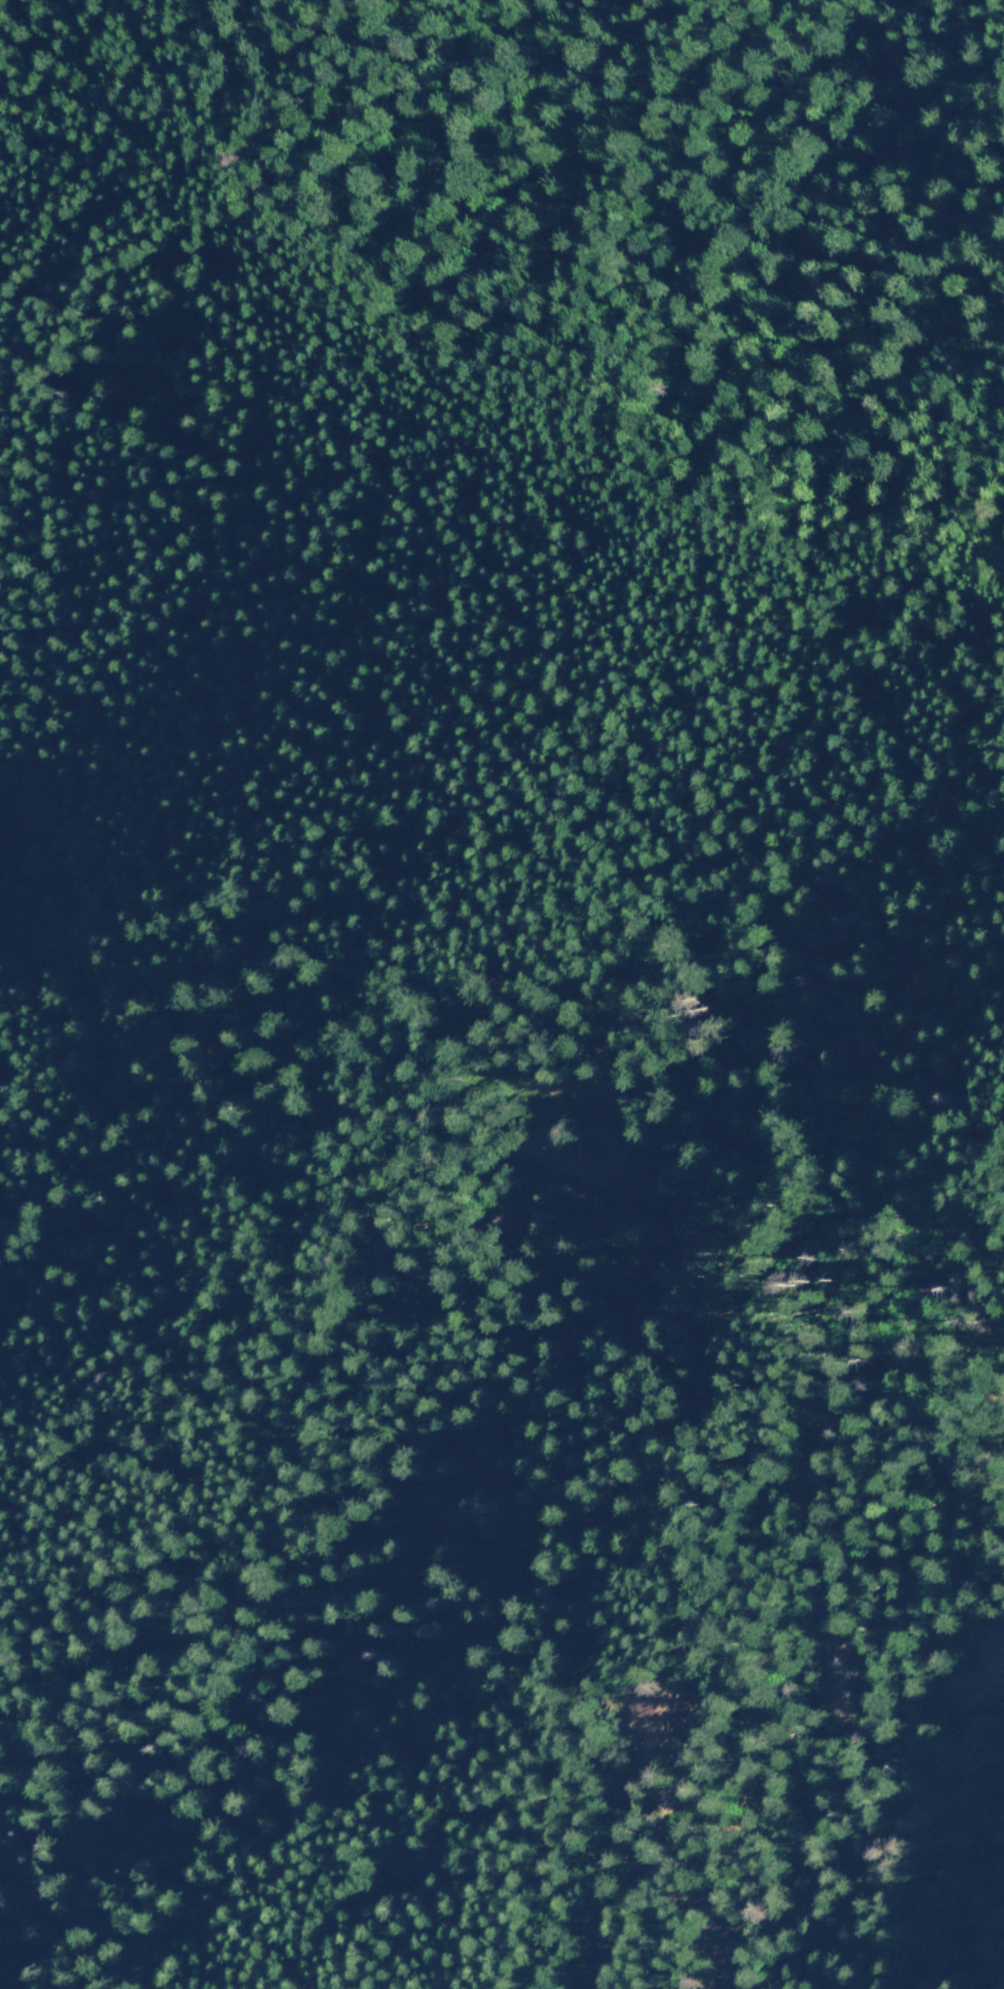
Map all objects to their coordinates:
road: (695, 168)

